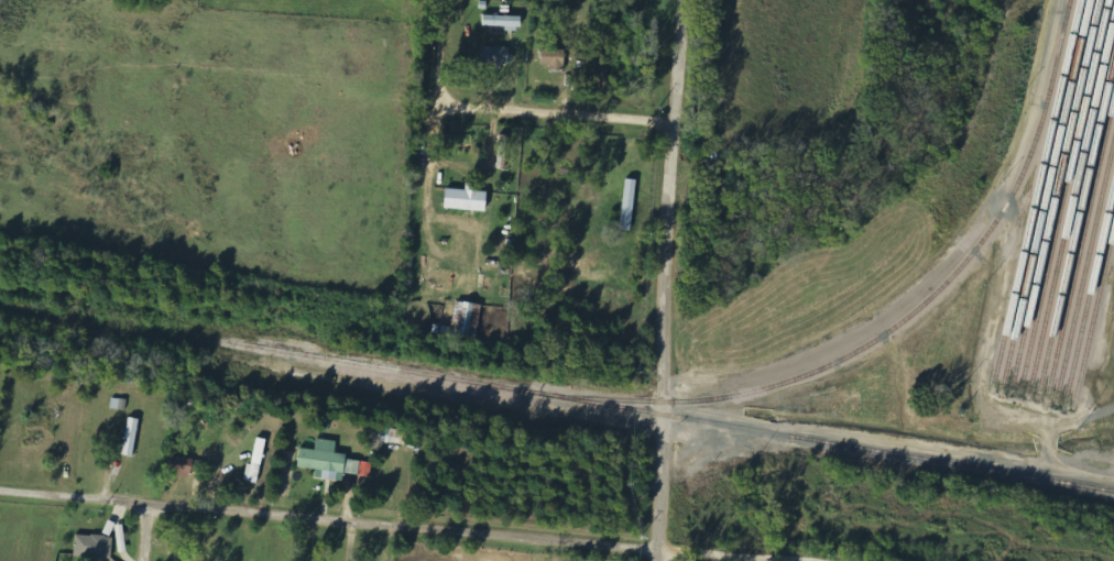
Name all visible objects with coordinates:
building: (504, 22)
building: (498, 55)
building: (555, 58)
road: (553, 118)
road: (435, 123)
railway: (1036, 189)
railway: (1045, 191)
railway: (1055, 193)
railway: (1063, 194)
building: (468, 198)
railway: (1071, 199)
building: (630, 205)
railway: (1077, 224)
railway: (1080, 246)
railway: (1084, 267)
road: (663, 275)
railway: (1090, 290)
railway: (1093, 315)
railway: (98, 318)
railway: (902, 319)
building: (468, 320)
building: (119, 404)
railway: (655, 413)
building: (394, 436)
building: (132, 437)
building: (258, 460)
building: (334, 462)
building: (185, 466)
road: (387, 527)
road: (145, 532)
building: (95, 547)
road: (655, 557)

